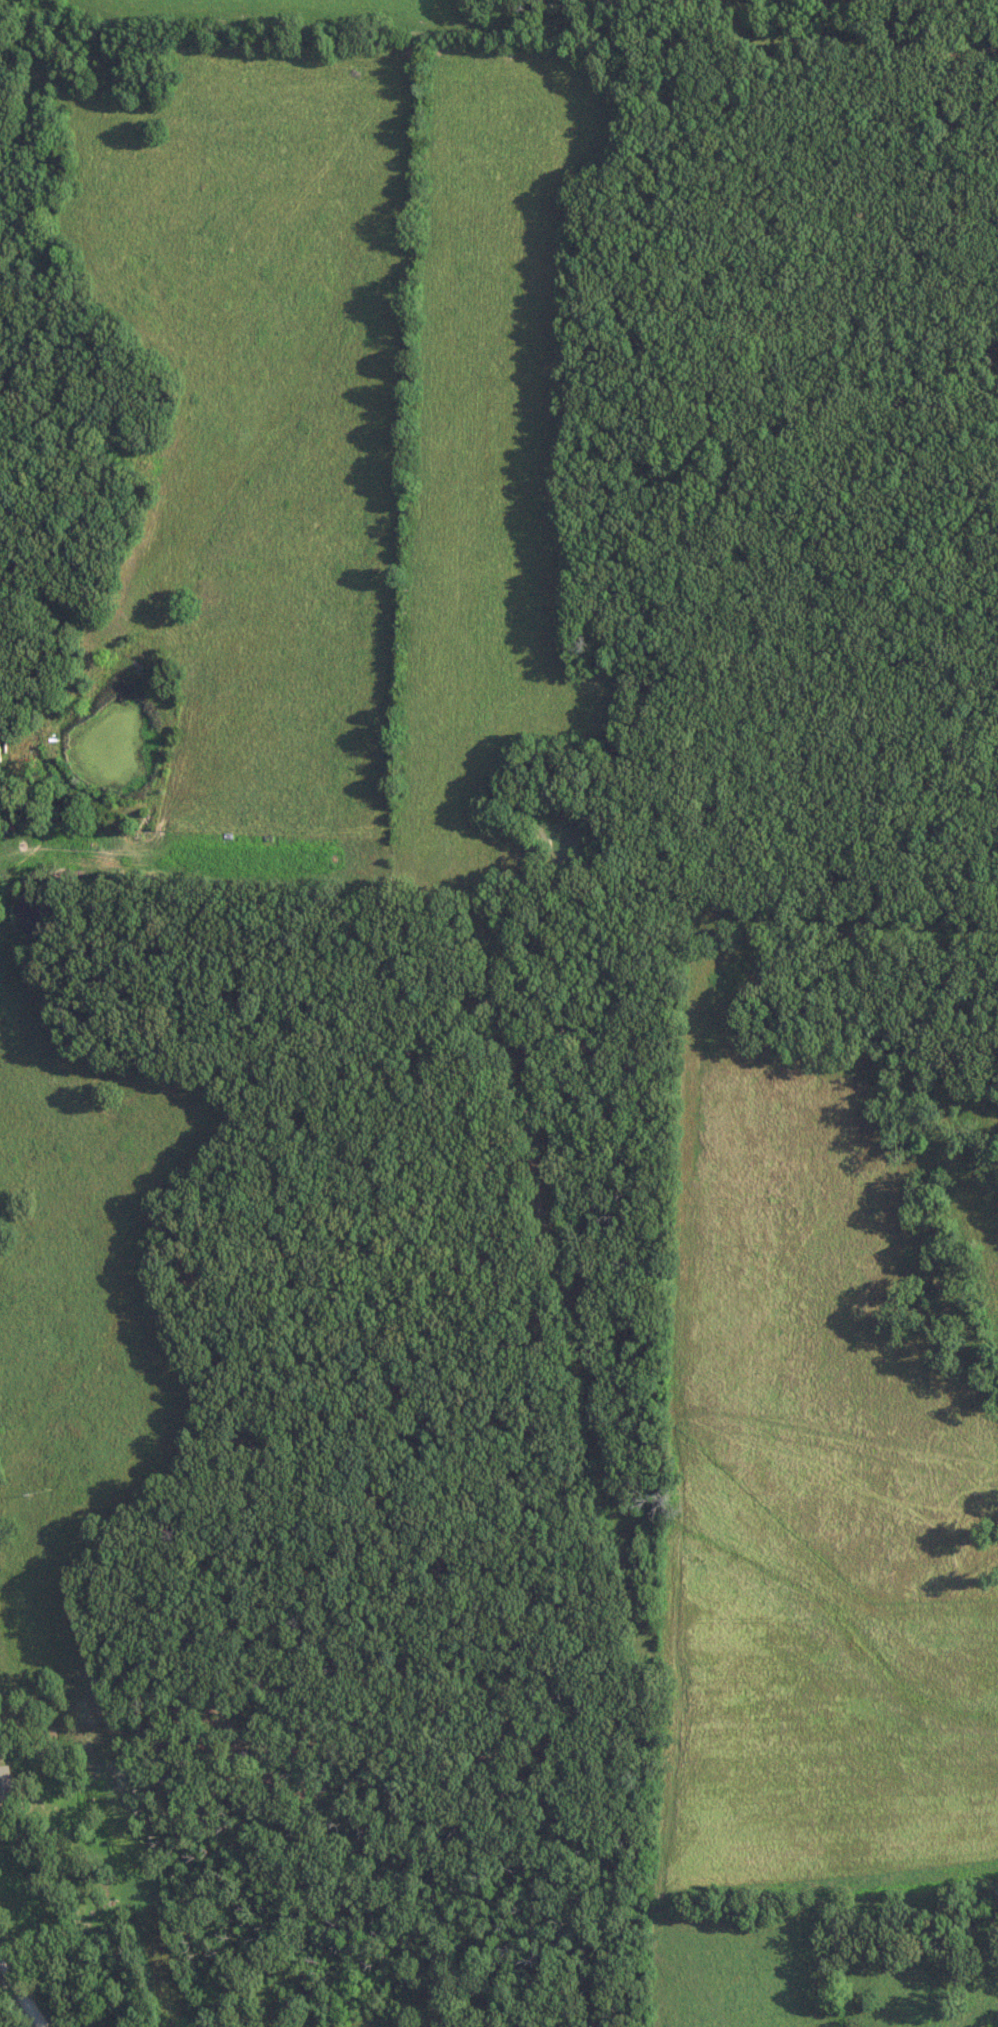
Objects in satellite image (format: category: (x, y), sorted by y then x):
building: (6, 1785)
road: (20, 1990)

